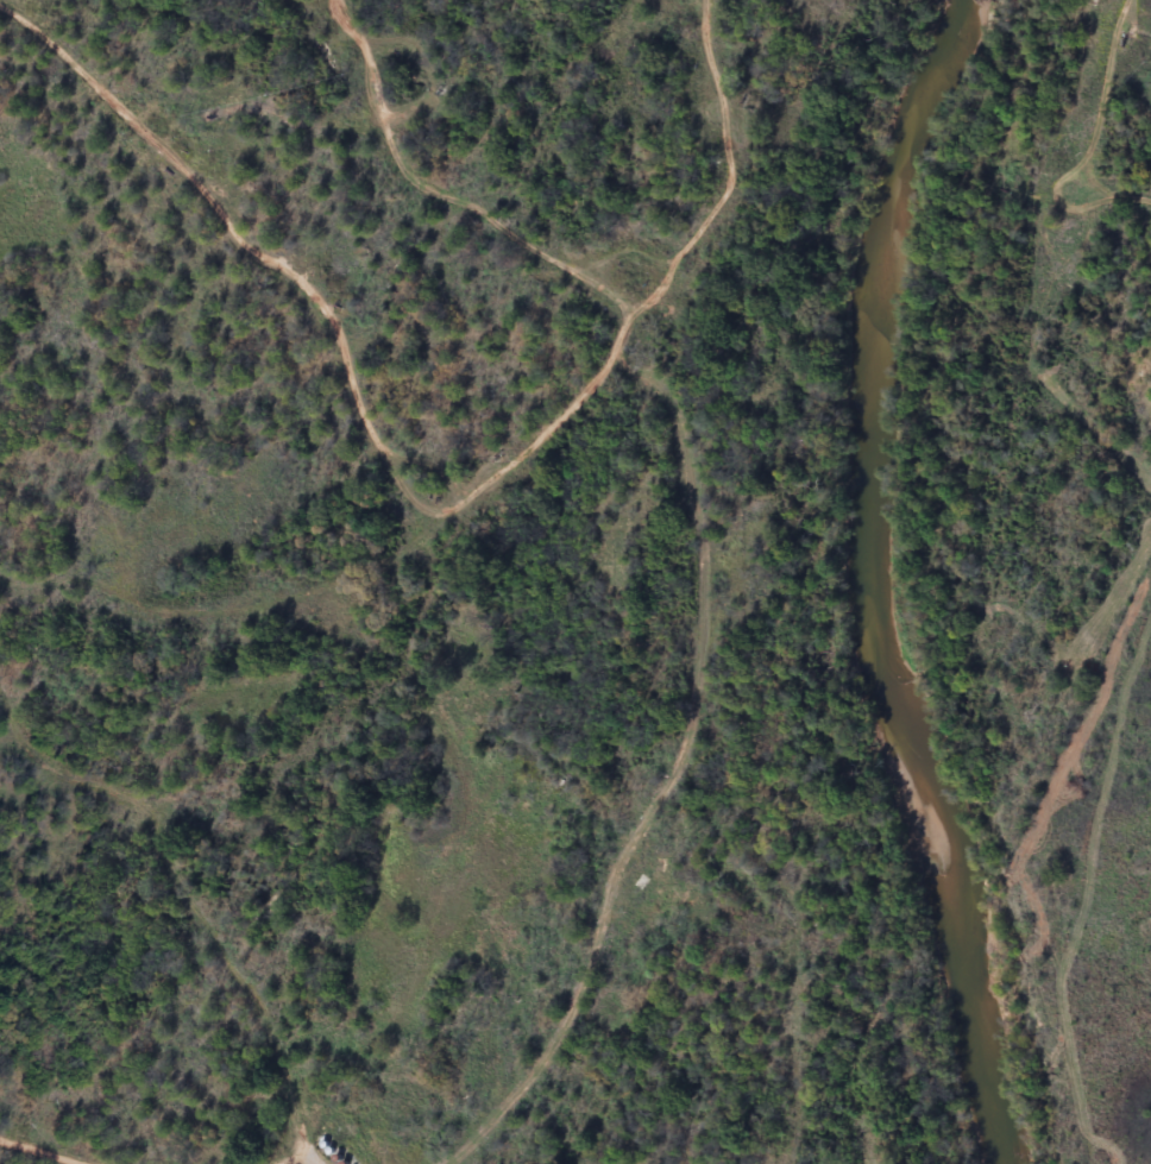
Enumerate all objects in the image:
river: (885, 577)

